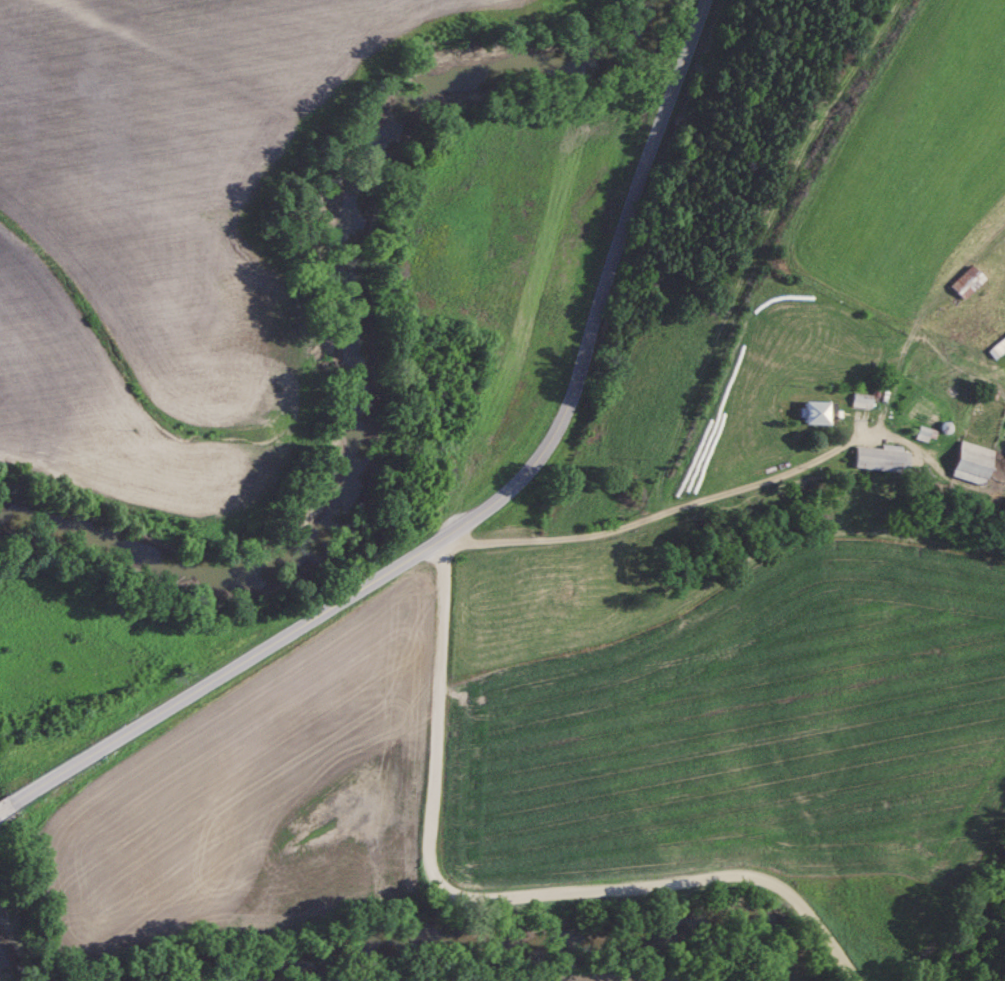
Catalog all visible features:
building: (968, 283)
building: (1004, 338)
building: (863, 403)
building: (820, 415)
building: (881, 460)
building: (973, 464)
road: (731, 489)
road: (482, 512)
road: (498, 897)

